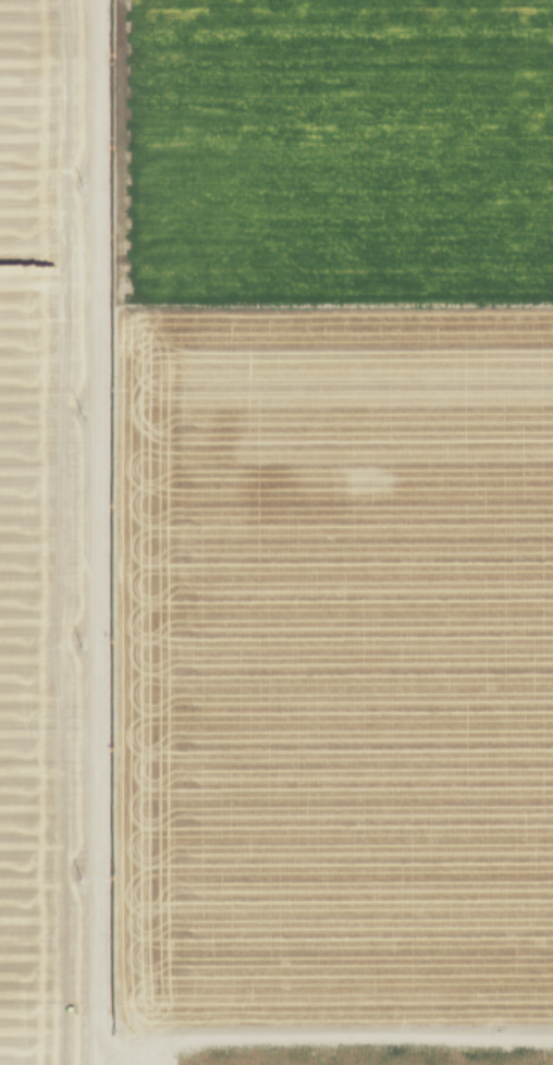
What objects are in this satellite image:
road: (95, 532)

